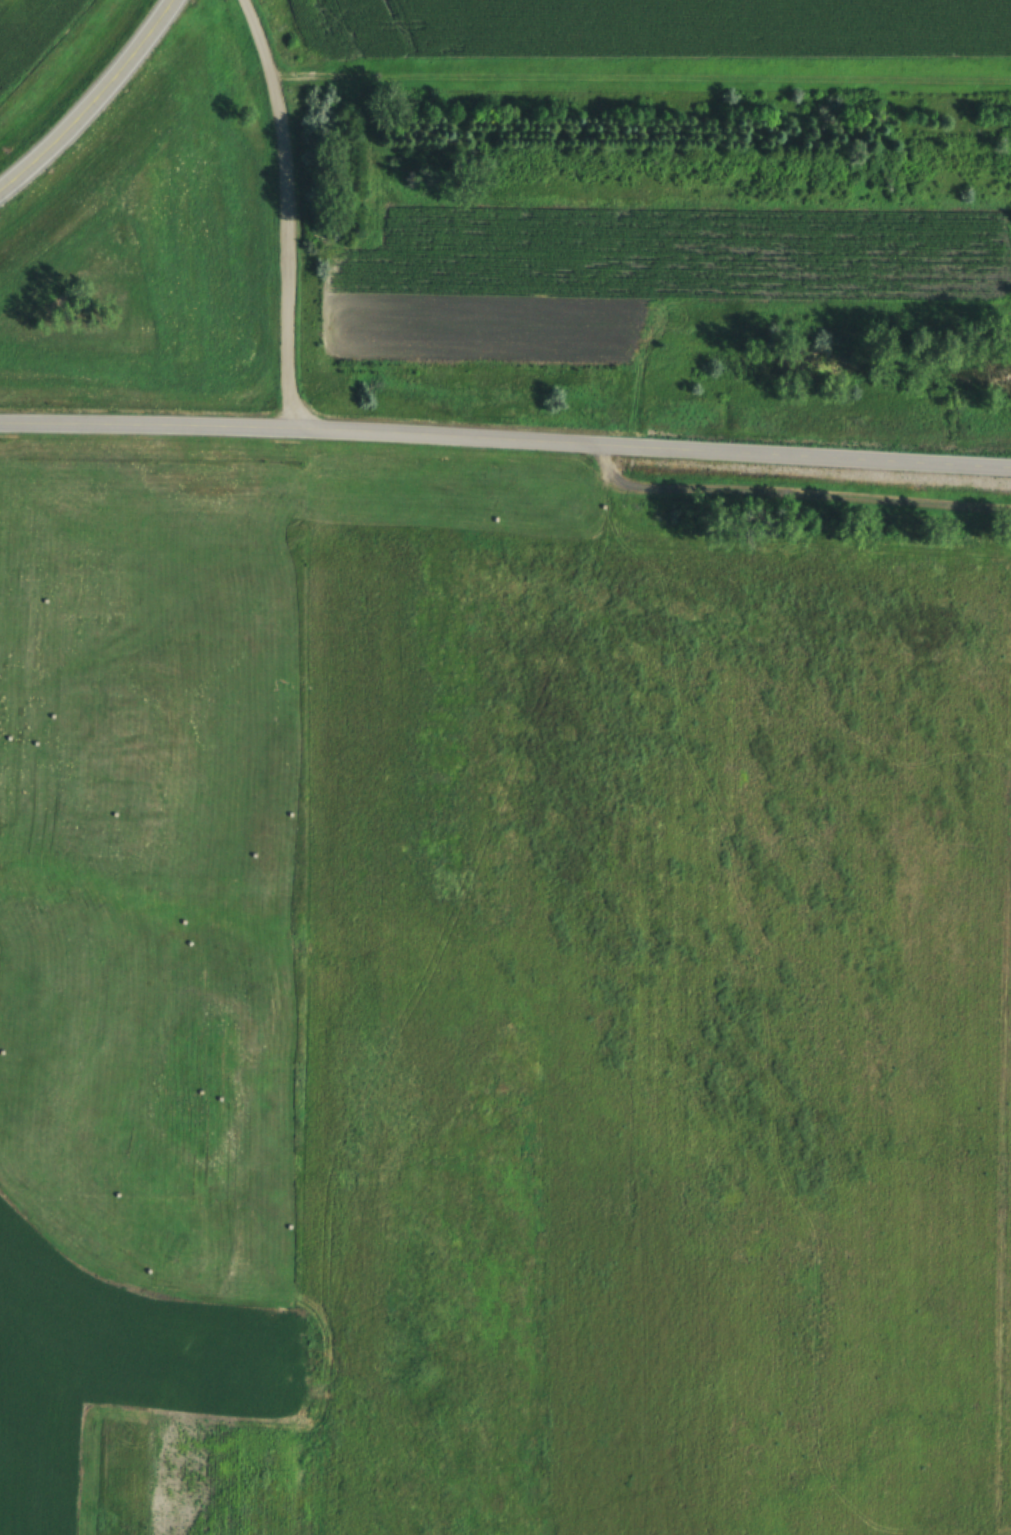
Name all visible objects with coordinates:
road: (101, 98)
road: (282, 212)
road: (505, 437)
crop: (46, 1389)

